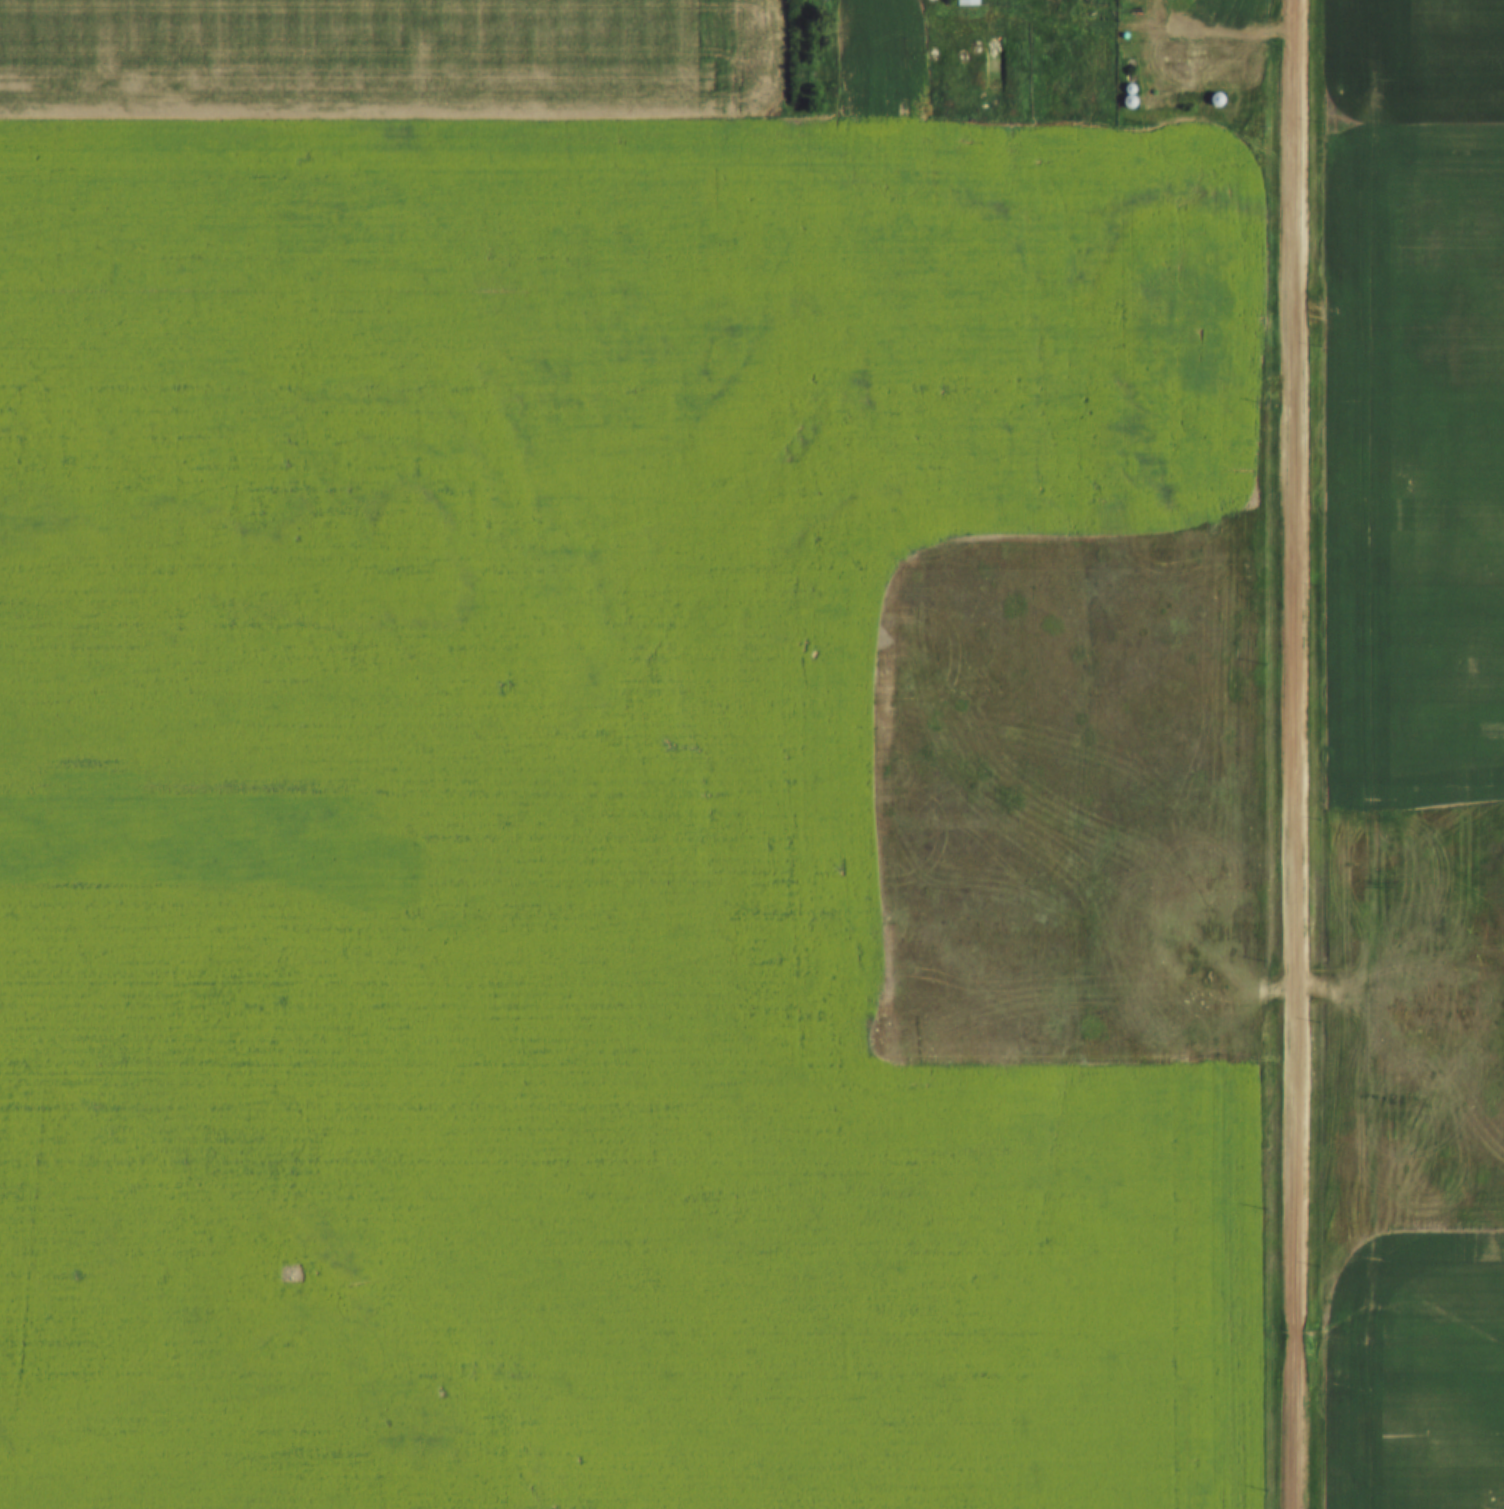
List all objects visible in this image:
building: (968, 2)
road: (1098, 22)
road: (1290, 754)

